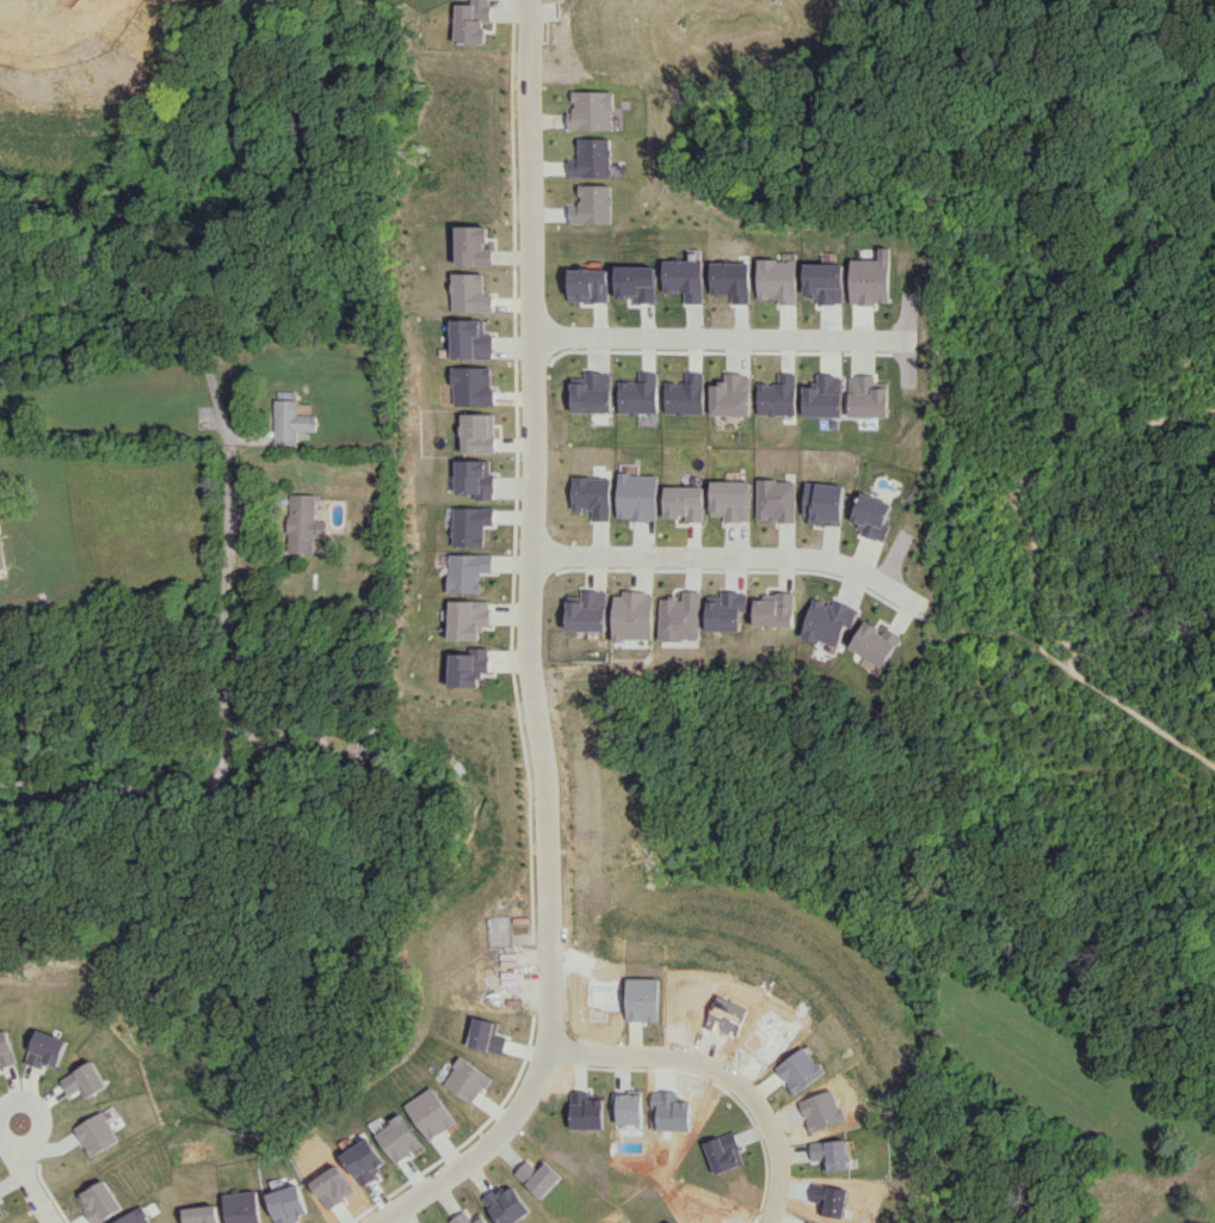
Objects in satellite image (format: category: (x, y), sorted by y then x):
road: (38, 14)
building: (475, 21)
building: (596, 110)
building: (594, 158)
building: (474, 245)
building: (776, 281)
building: (869, 281)
building: (824, 282)
building: (470, 293)
road: (716, 336)
building: (470, 339)
building: (470, 386)
building: (636, 394)
building: (729, 395)
building: (776, 395)
building: (822, 397)
building: (866, 397)
building: (290, 422)
building: (475, 432)
building: (471, 478)
building: (588, 496)
building: (634, 496)
building: (728, 499)
building: (773, 499)
building: (680, 502)
building: (822, 503)
building: (870, 516)
building: (303, 523)
building: (468, 524)
building: (1, 557)
road: (724, 557)
building: (465, 571)
building: (773, 609)
building: (586, 610)
building: (724, 610)
building: (631, 615)
building: (679, 616)
building: (468, 619)
building: (826, 620)
building: (874, 643)
road: (528, 651)
building: (470, 666)
road: (226, 676)
building: (485, 1035)
building: (6, 1049)
building: (47, 1049)
road: (721, 1067)
building: (428, 1113)
road: (26, 1174)
building: (136, 1217)

